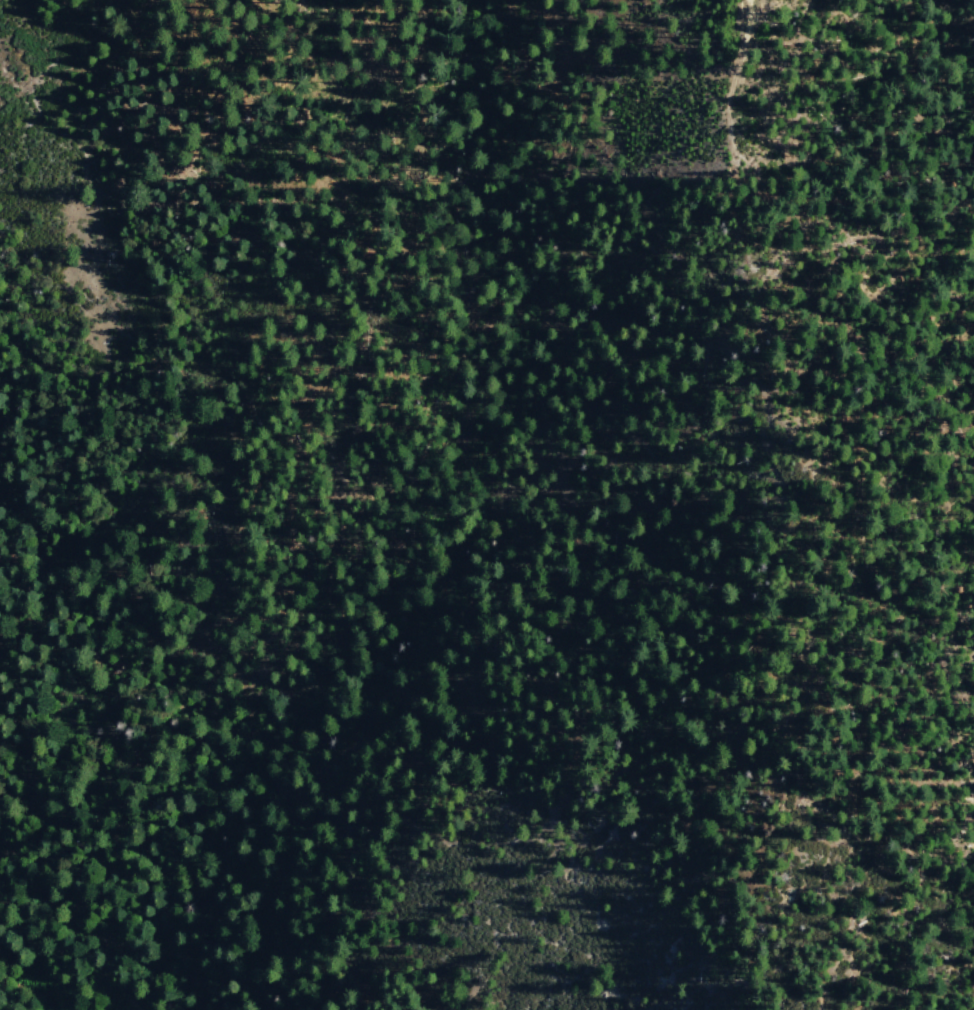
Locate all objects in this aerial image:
road: (700, 79)

